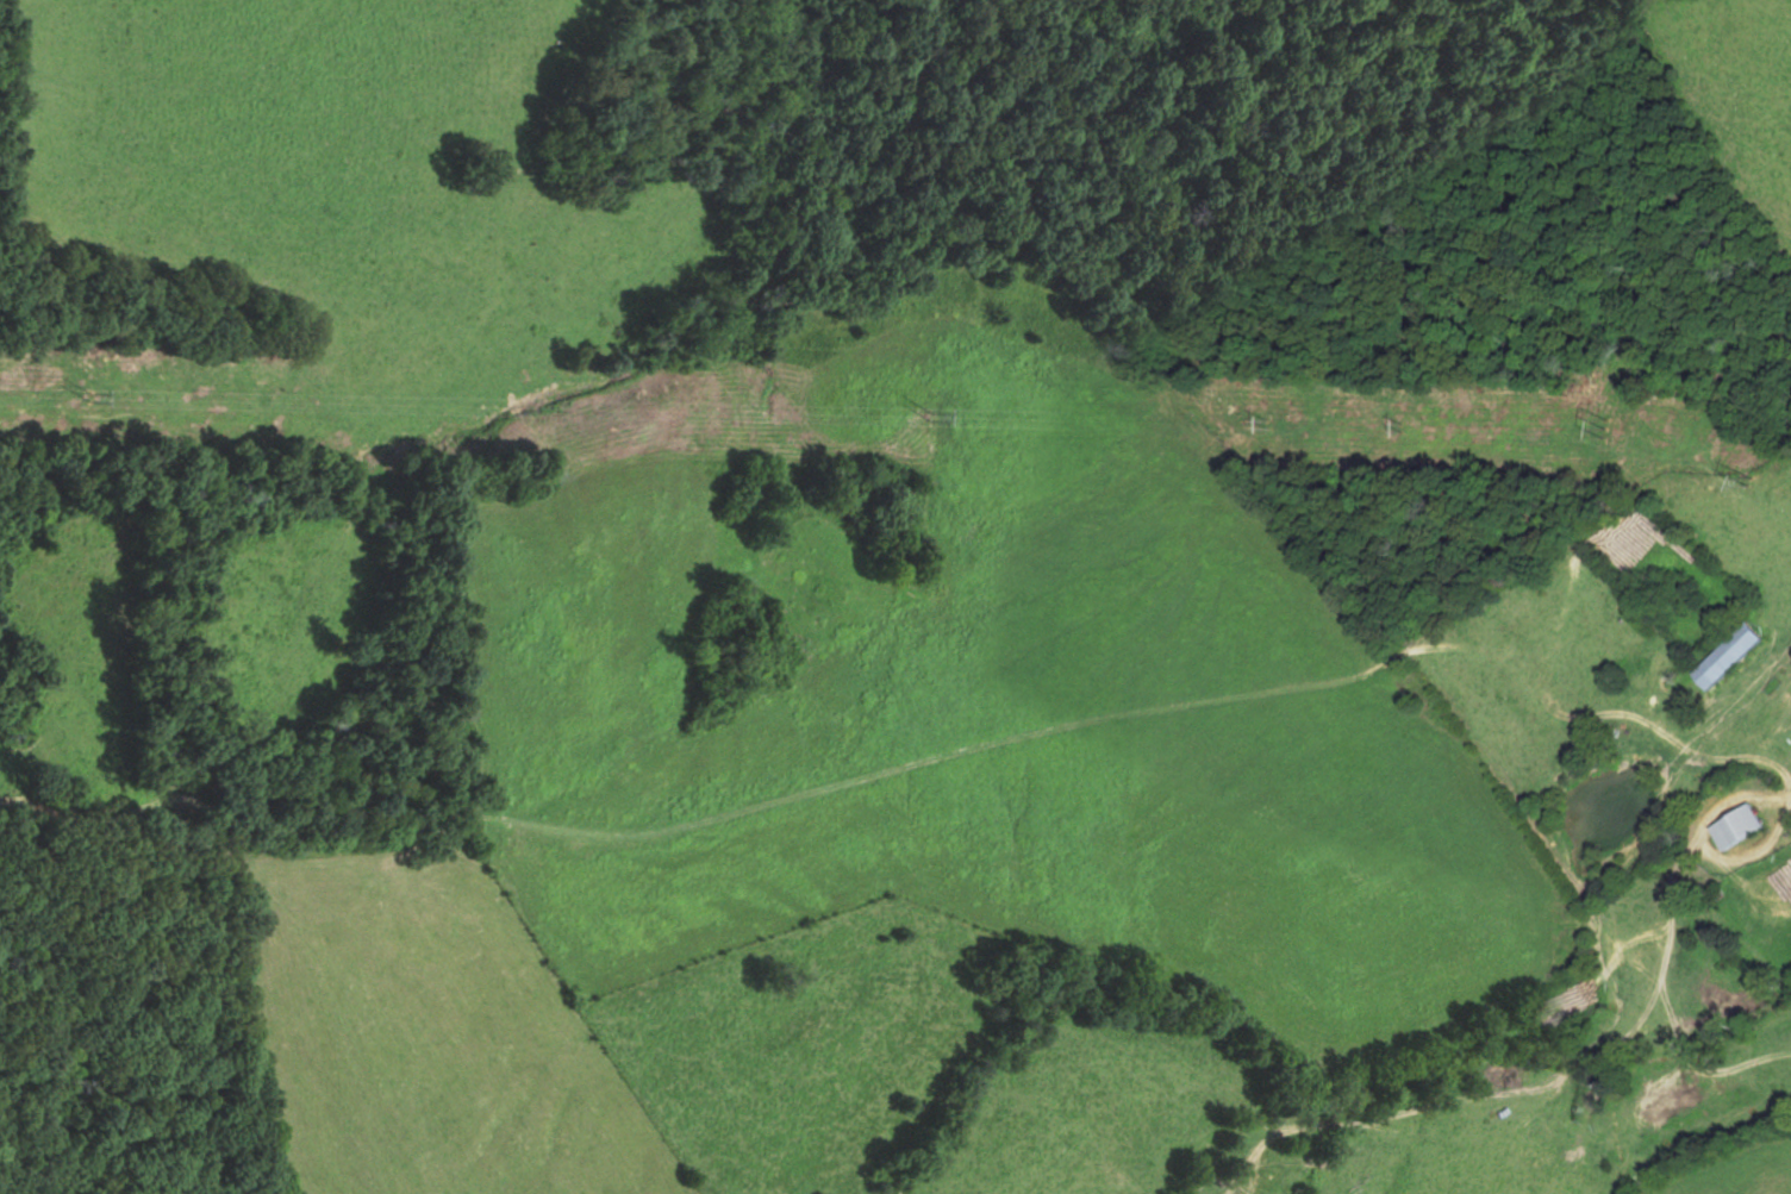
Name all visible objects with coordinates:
building: (1735, 655)
building: (1739, 827)

